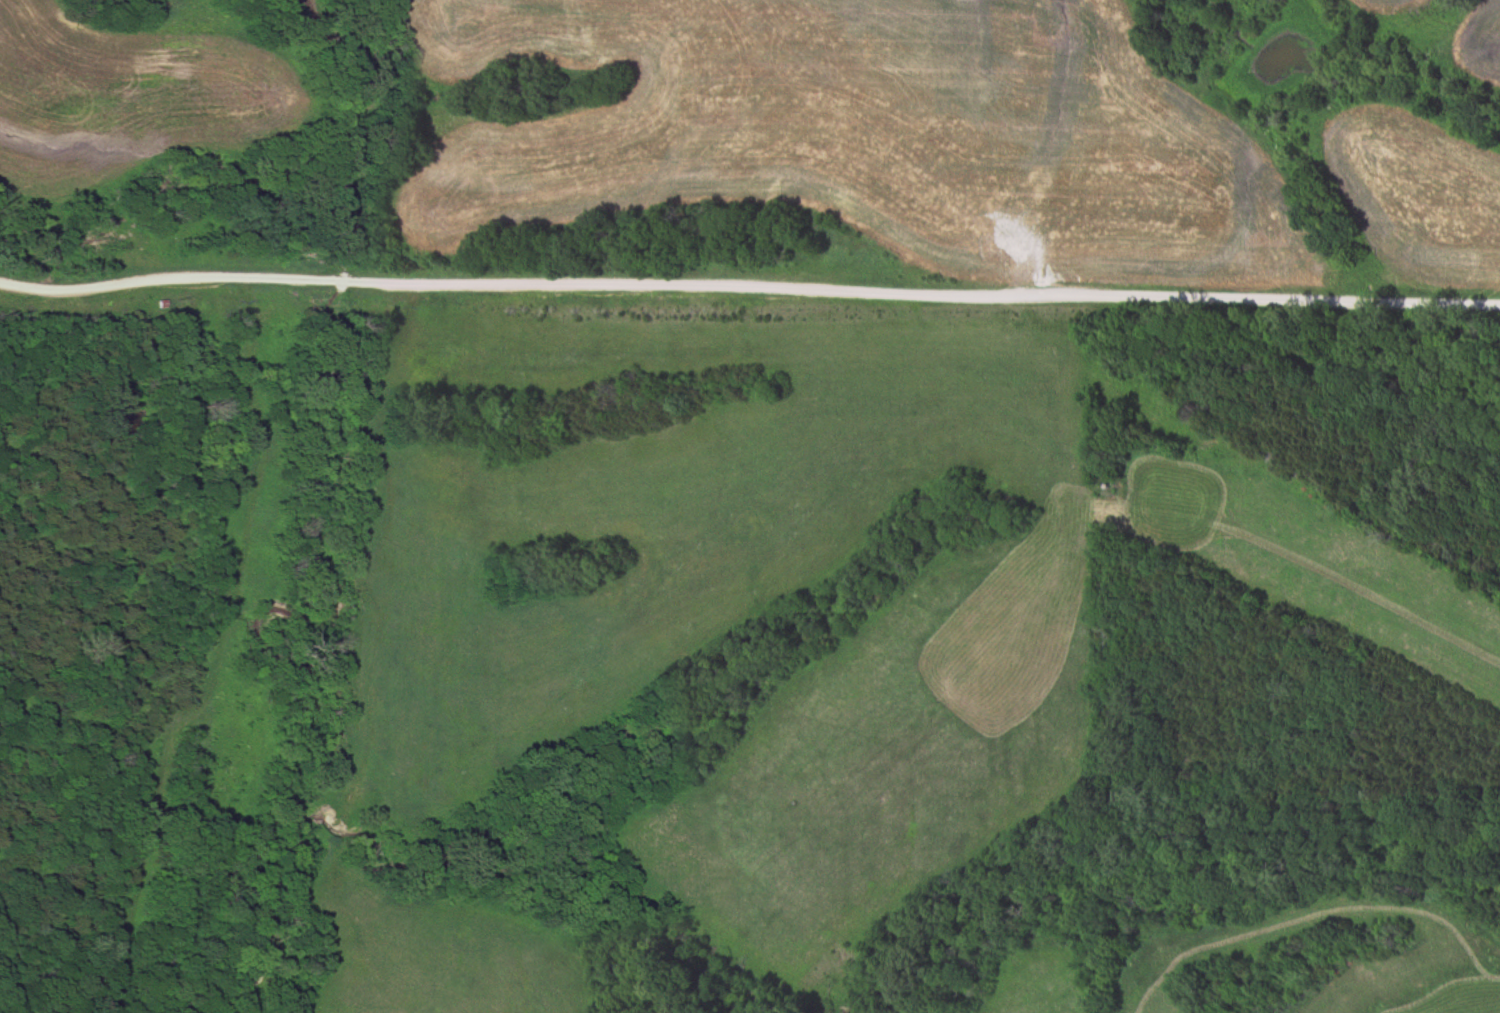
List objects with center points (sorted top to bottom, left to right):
road: (749, 288)

